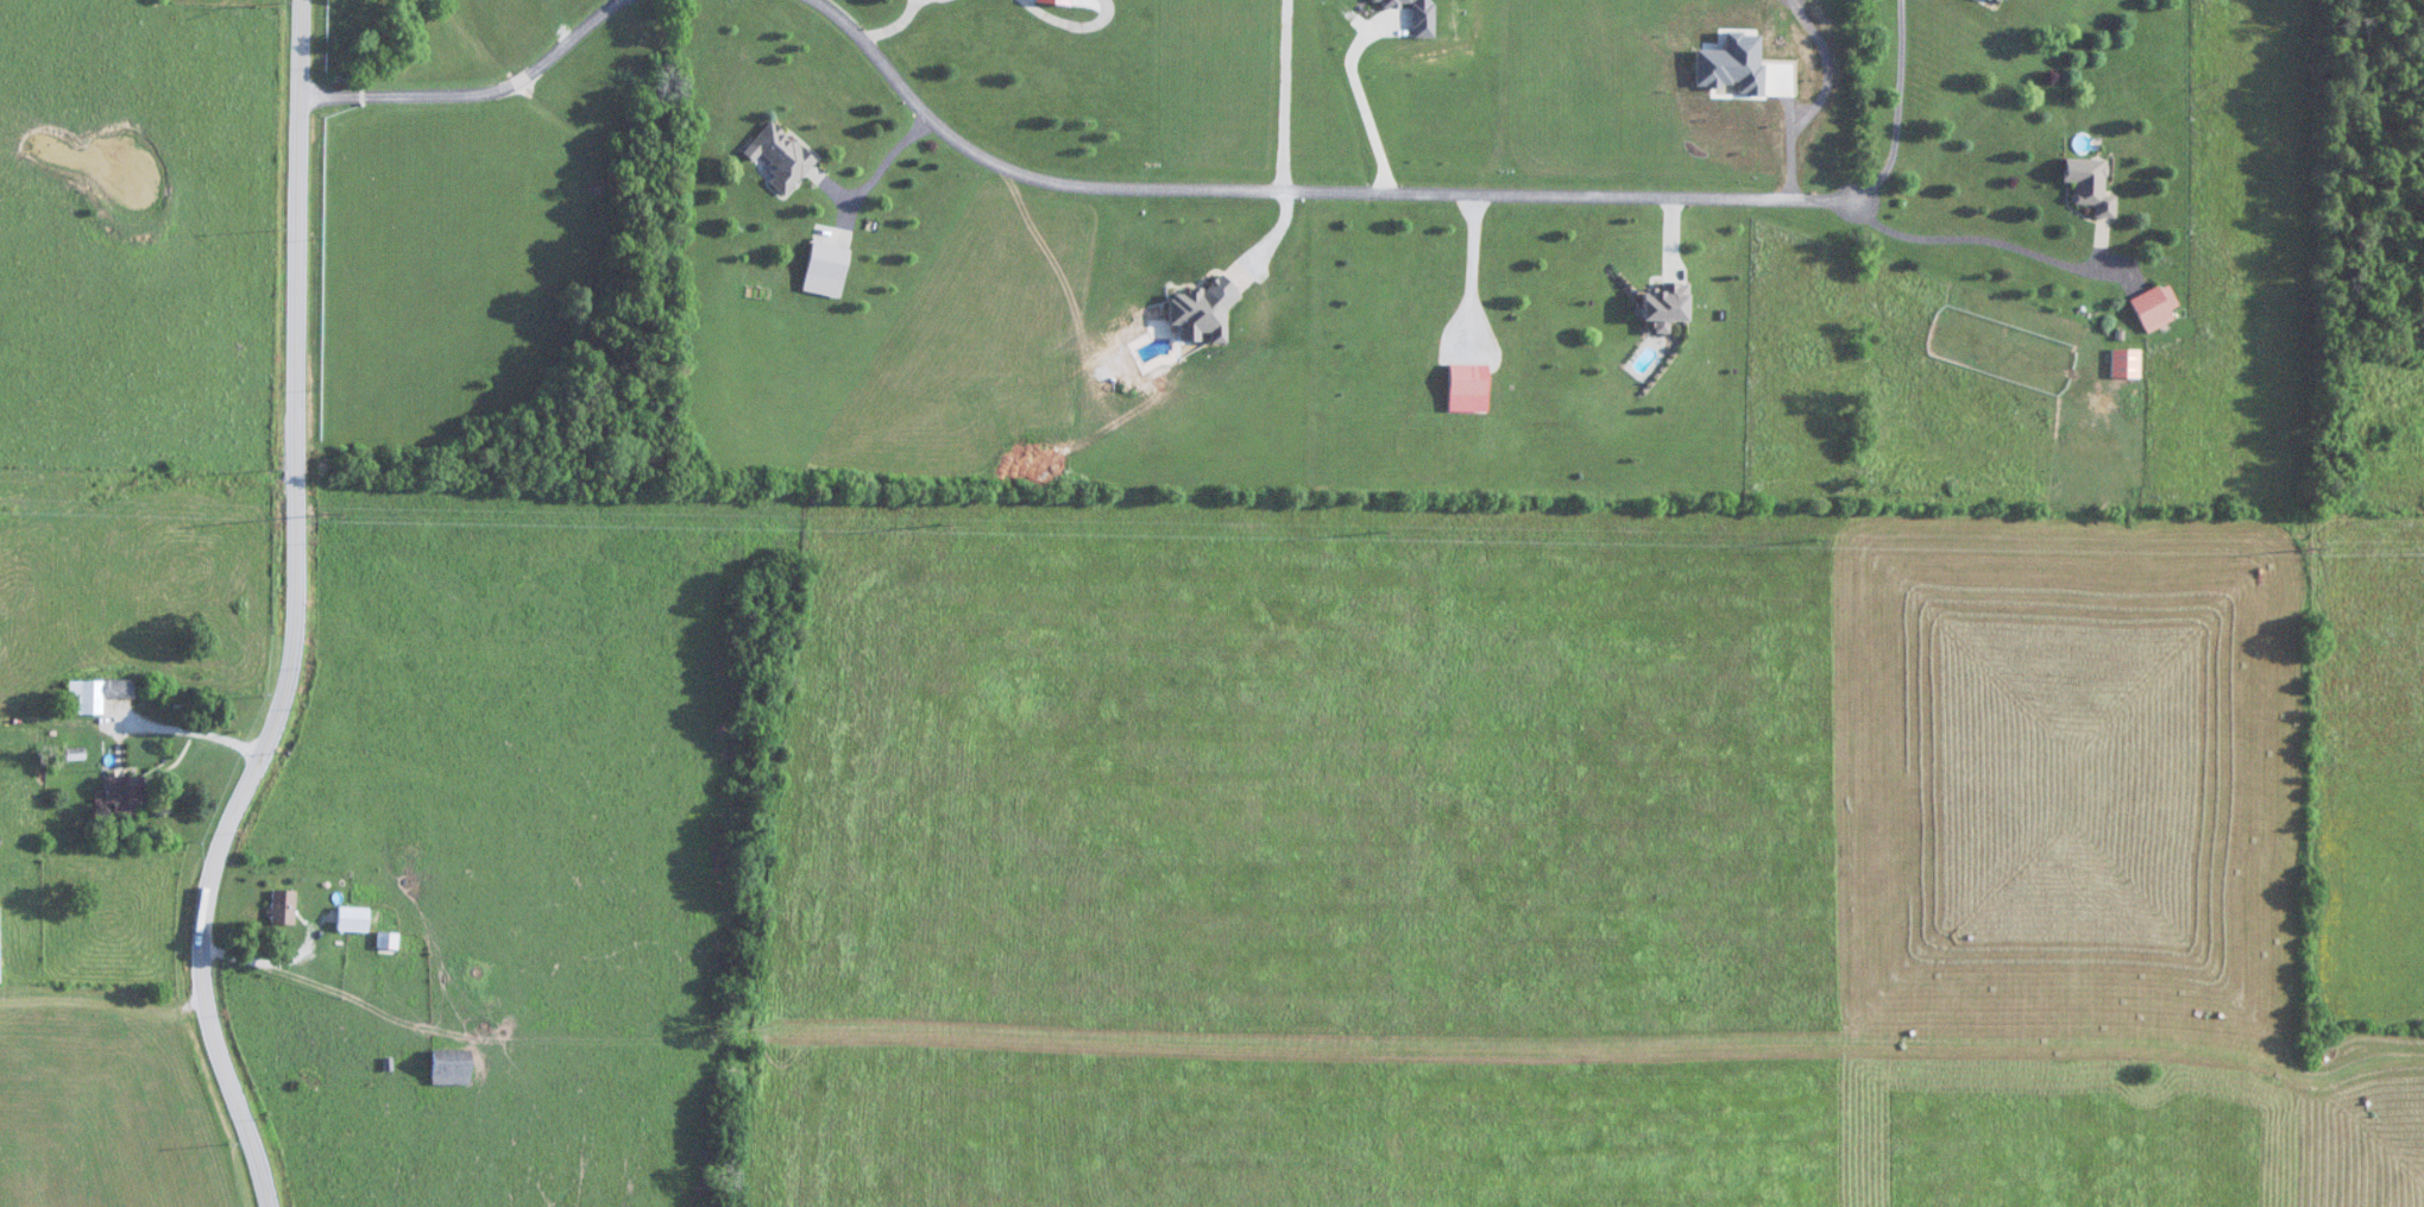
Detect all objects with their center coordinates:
building: (2002, 0)
road: (924, 1)
road: (1082, 20)
road: (900, 24)
road: (481, 89)
road: (1359, 89)
road: (1282, 93)
road: (1907, 106)
road: (888, 168)
building: (2083, 184)
road: (839, 187)
road: (1312, 187)
road: (1682, 232)
road: (2002, 238)
road: (2108, 244)
road: (1480, 266)
building: (2149, 307)
road: (306, 617)
building: (105, 691)
road: (199, 727)
building: (133, 792)
building: (291, 904)
building: (364, 916)
building: (5, 942)
building: (389, 942)
road: (275, 958)
building: (461, 1063)

